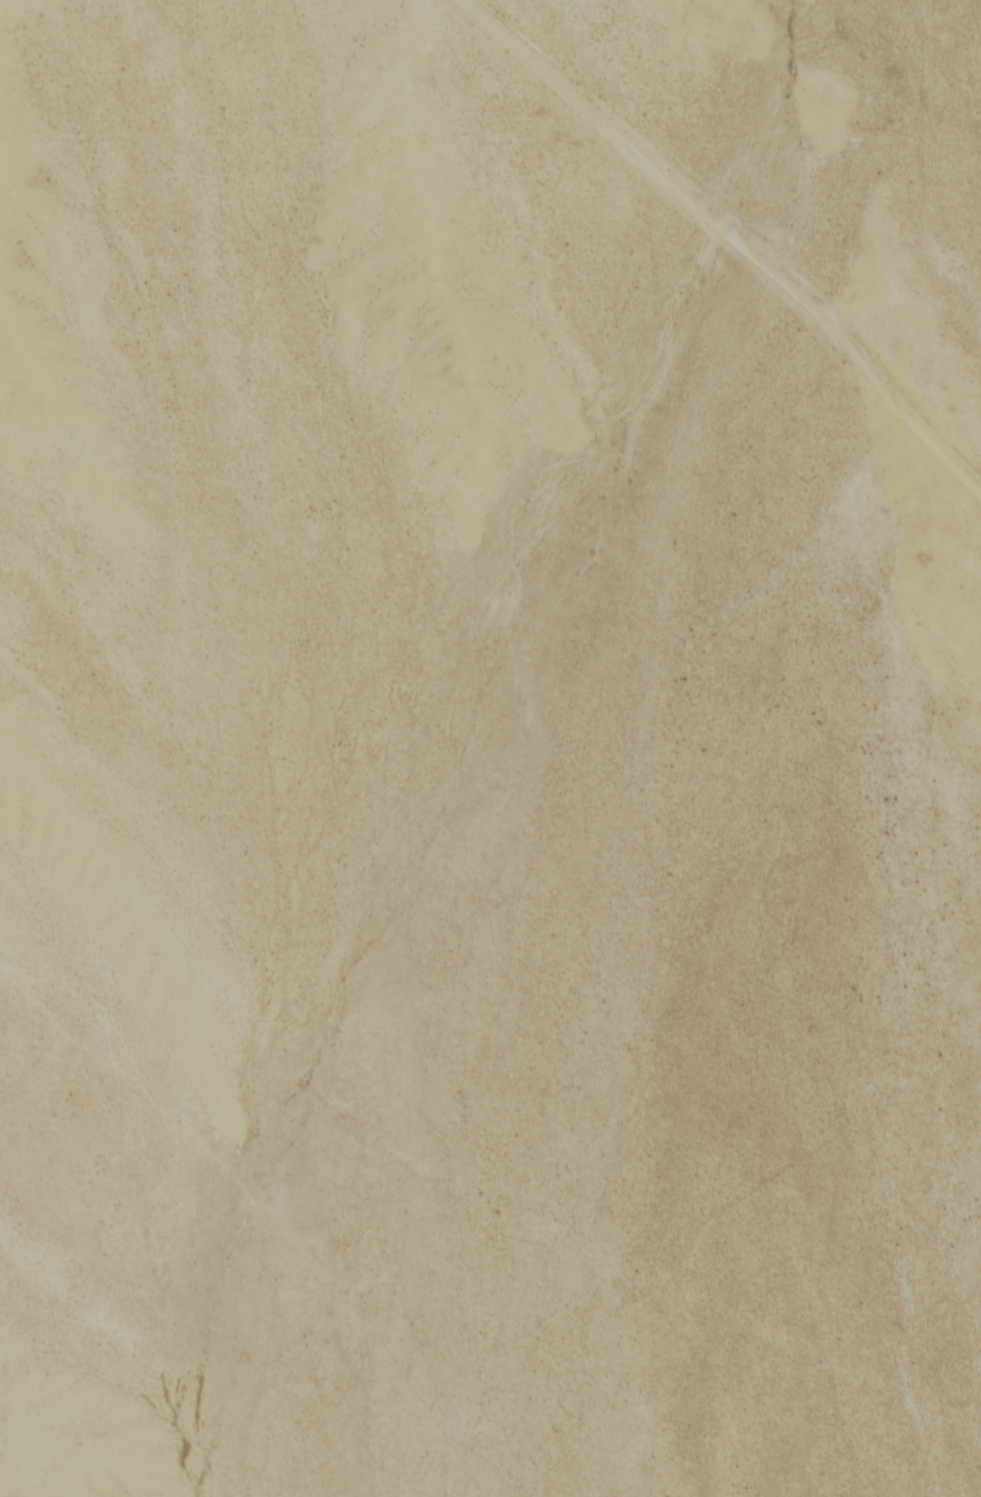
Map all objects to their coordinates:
road: (736, 222)

